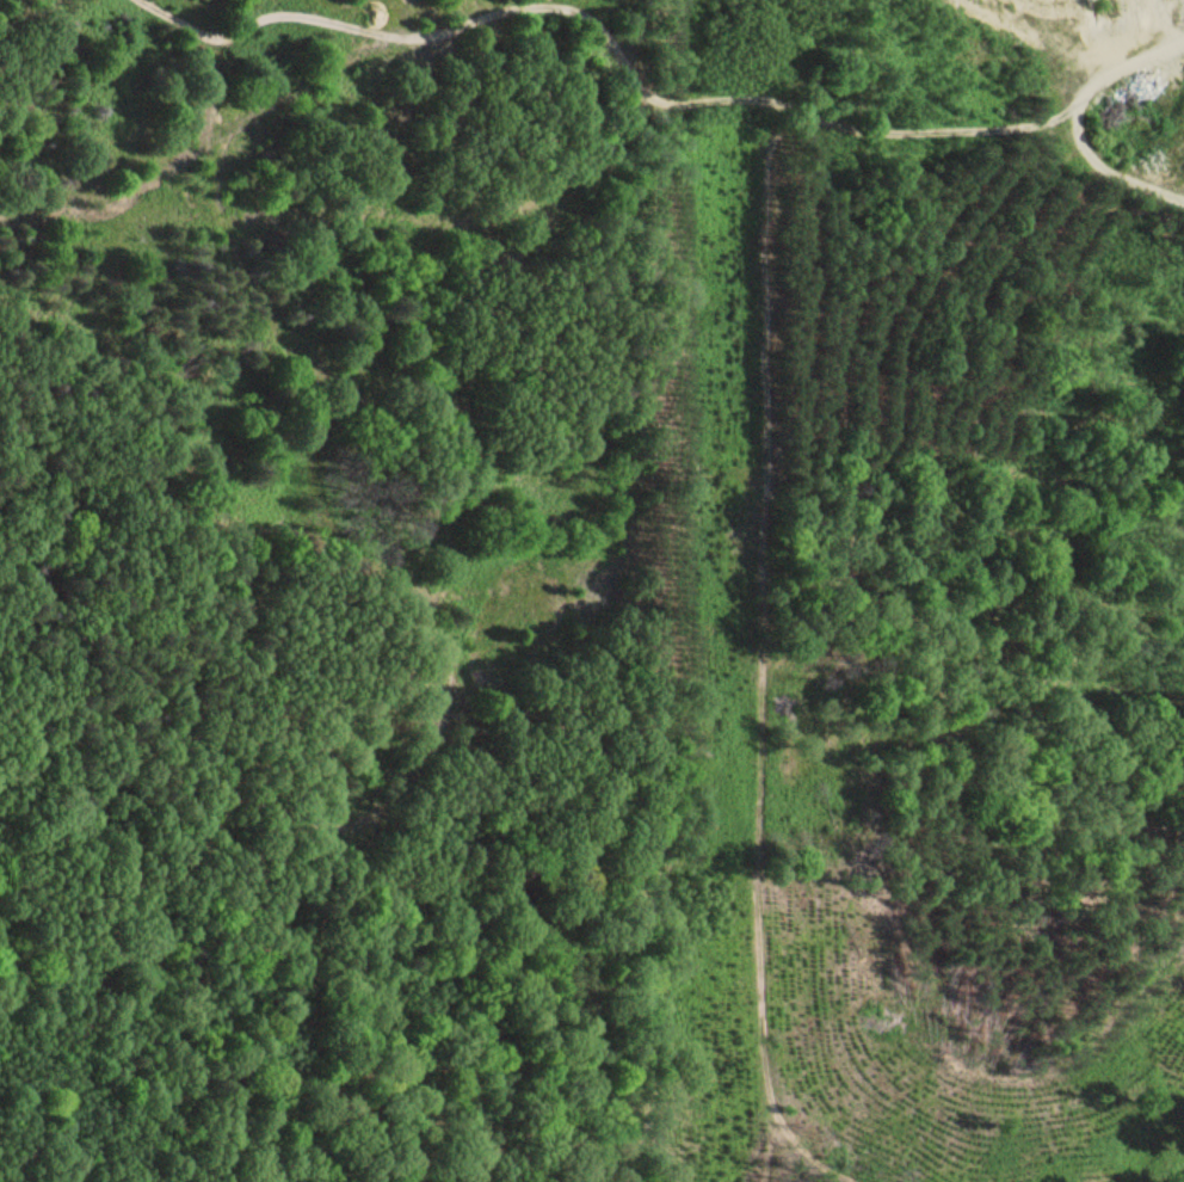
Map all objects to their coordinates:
quarry: (1071, 80)

